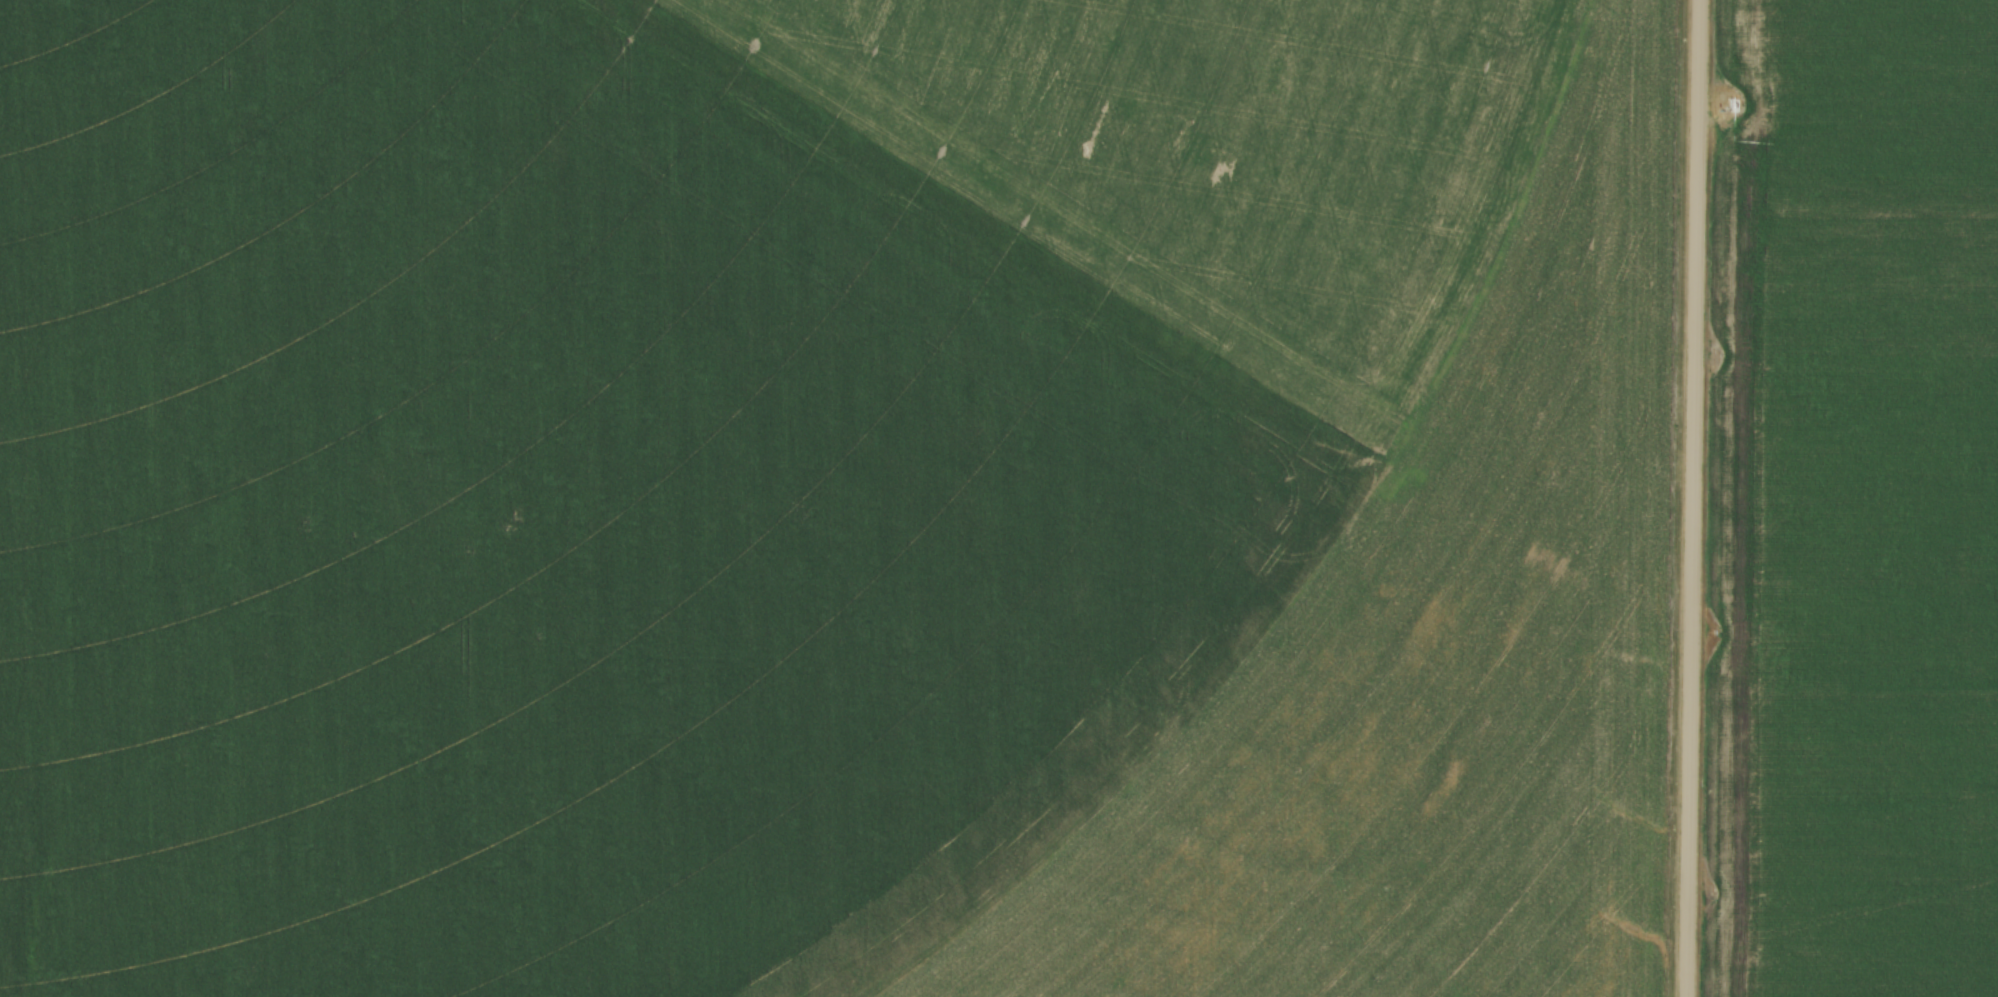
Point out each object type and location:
road: (1694, 498)

